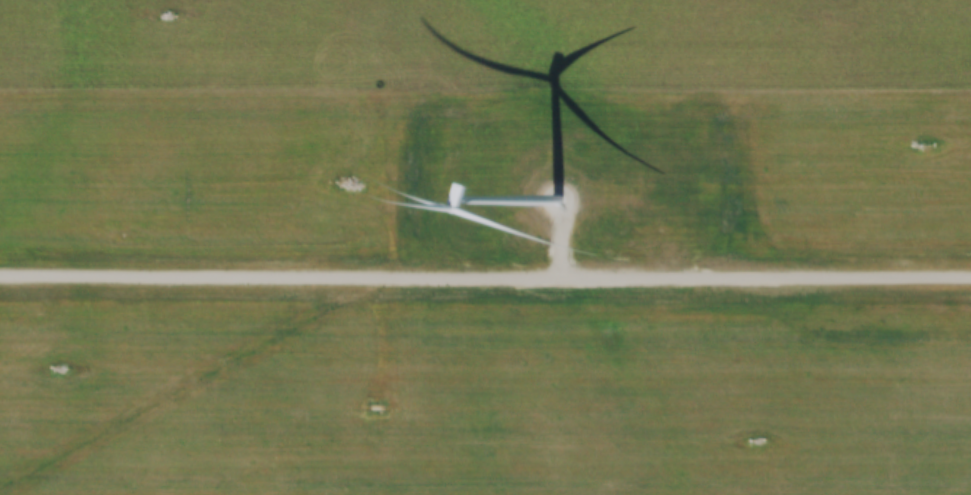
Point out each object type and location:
wind turbine: (558, 194)

